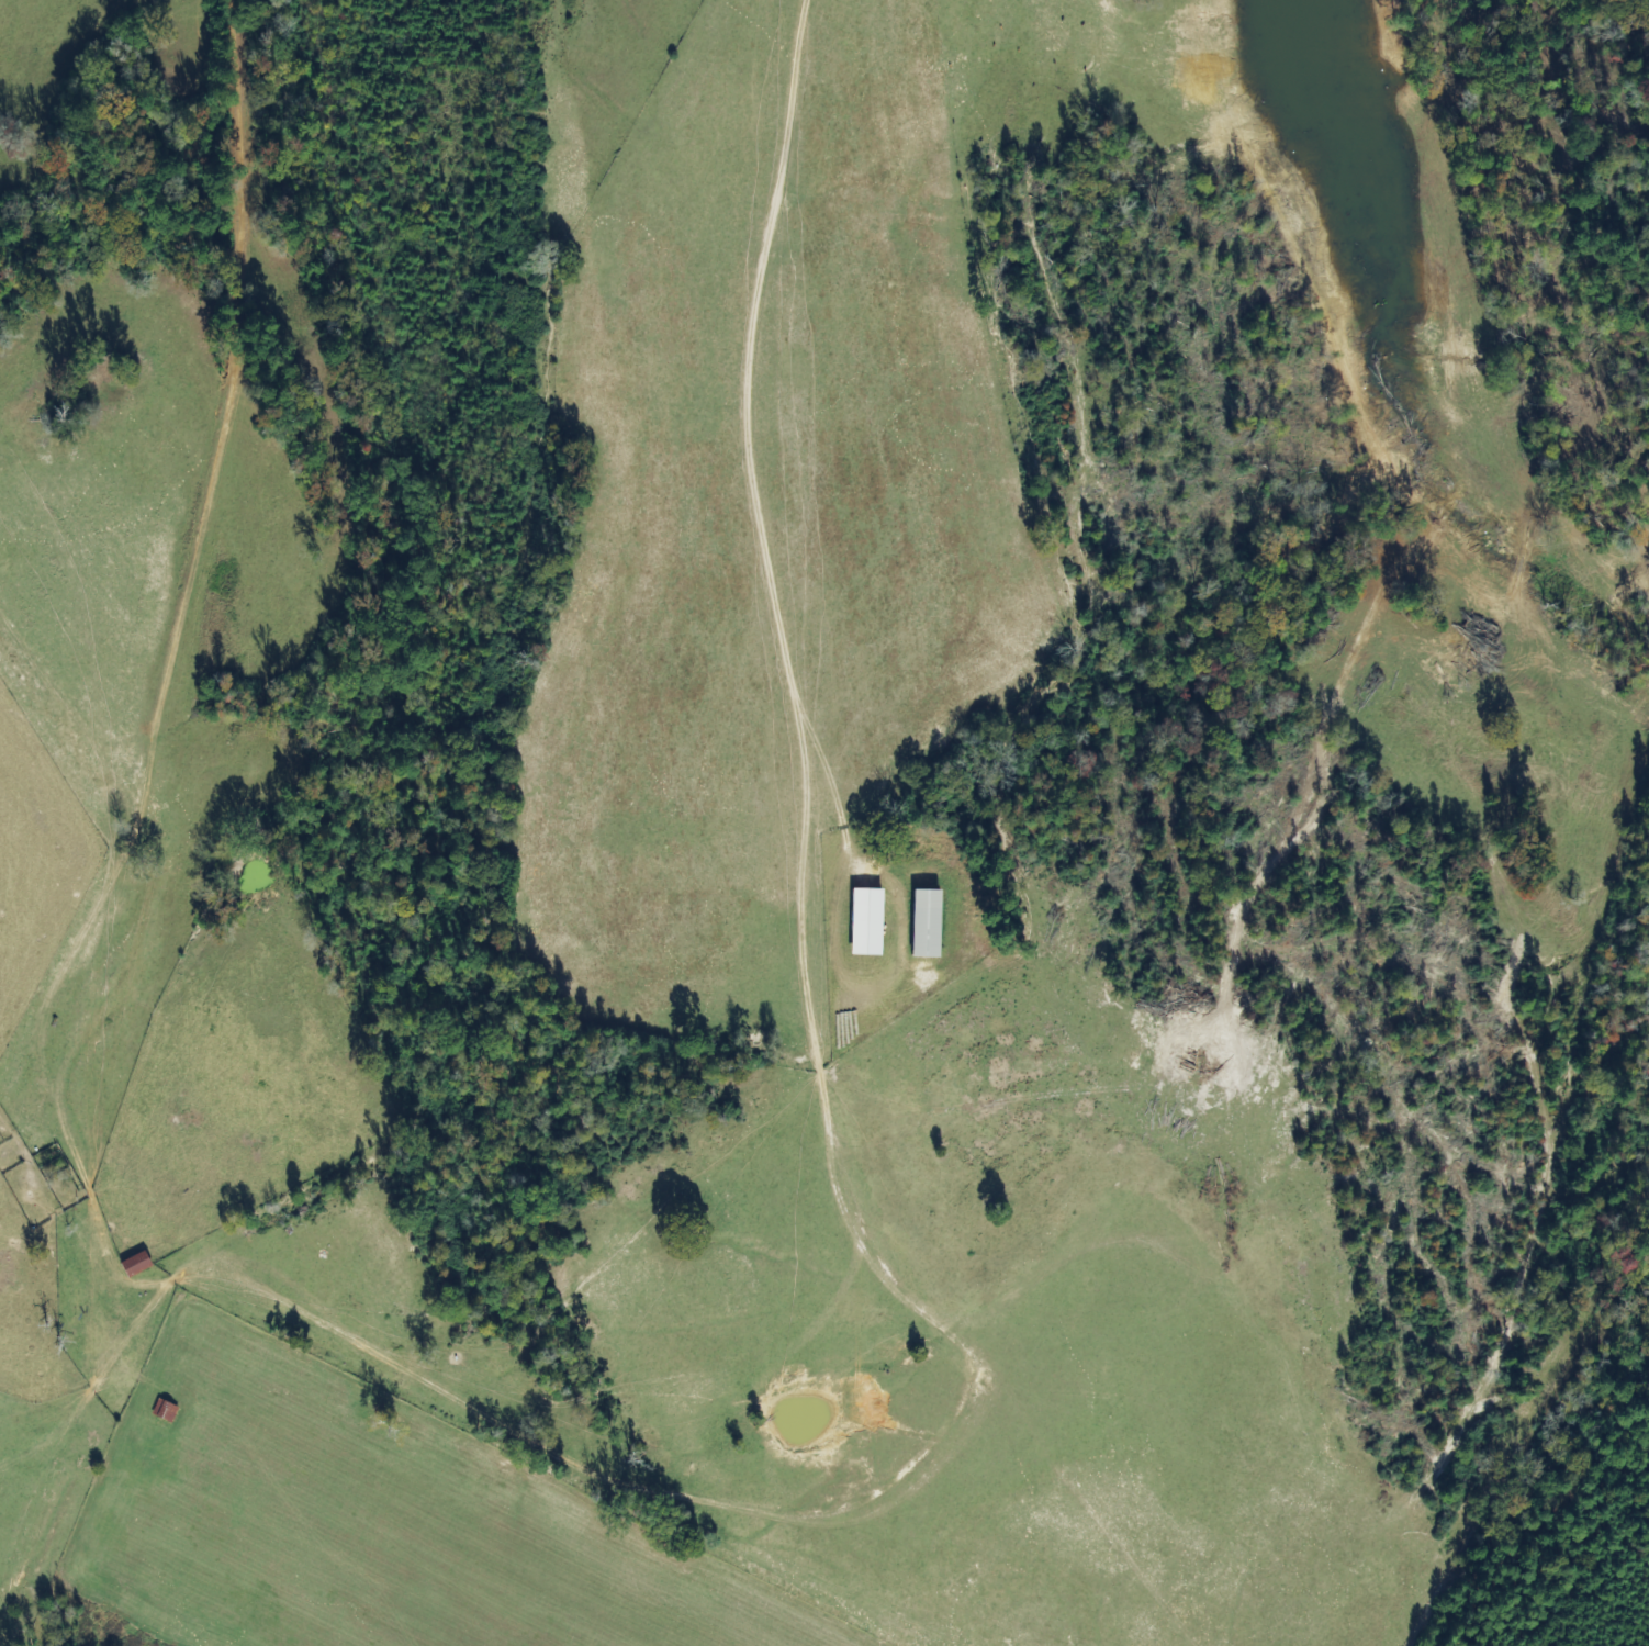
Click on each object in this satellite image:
building: (923, 923)
road: (27, 1135)
building: (133, 1264)

